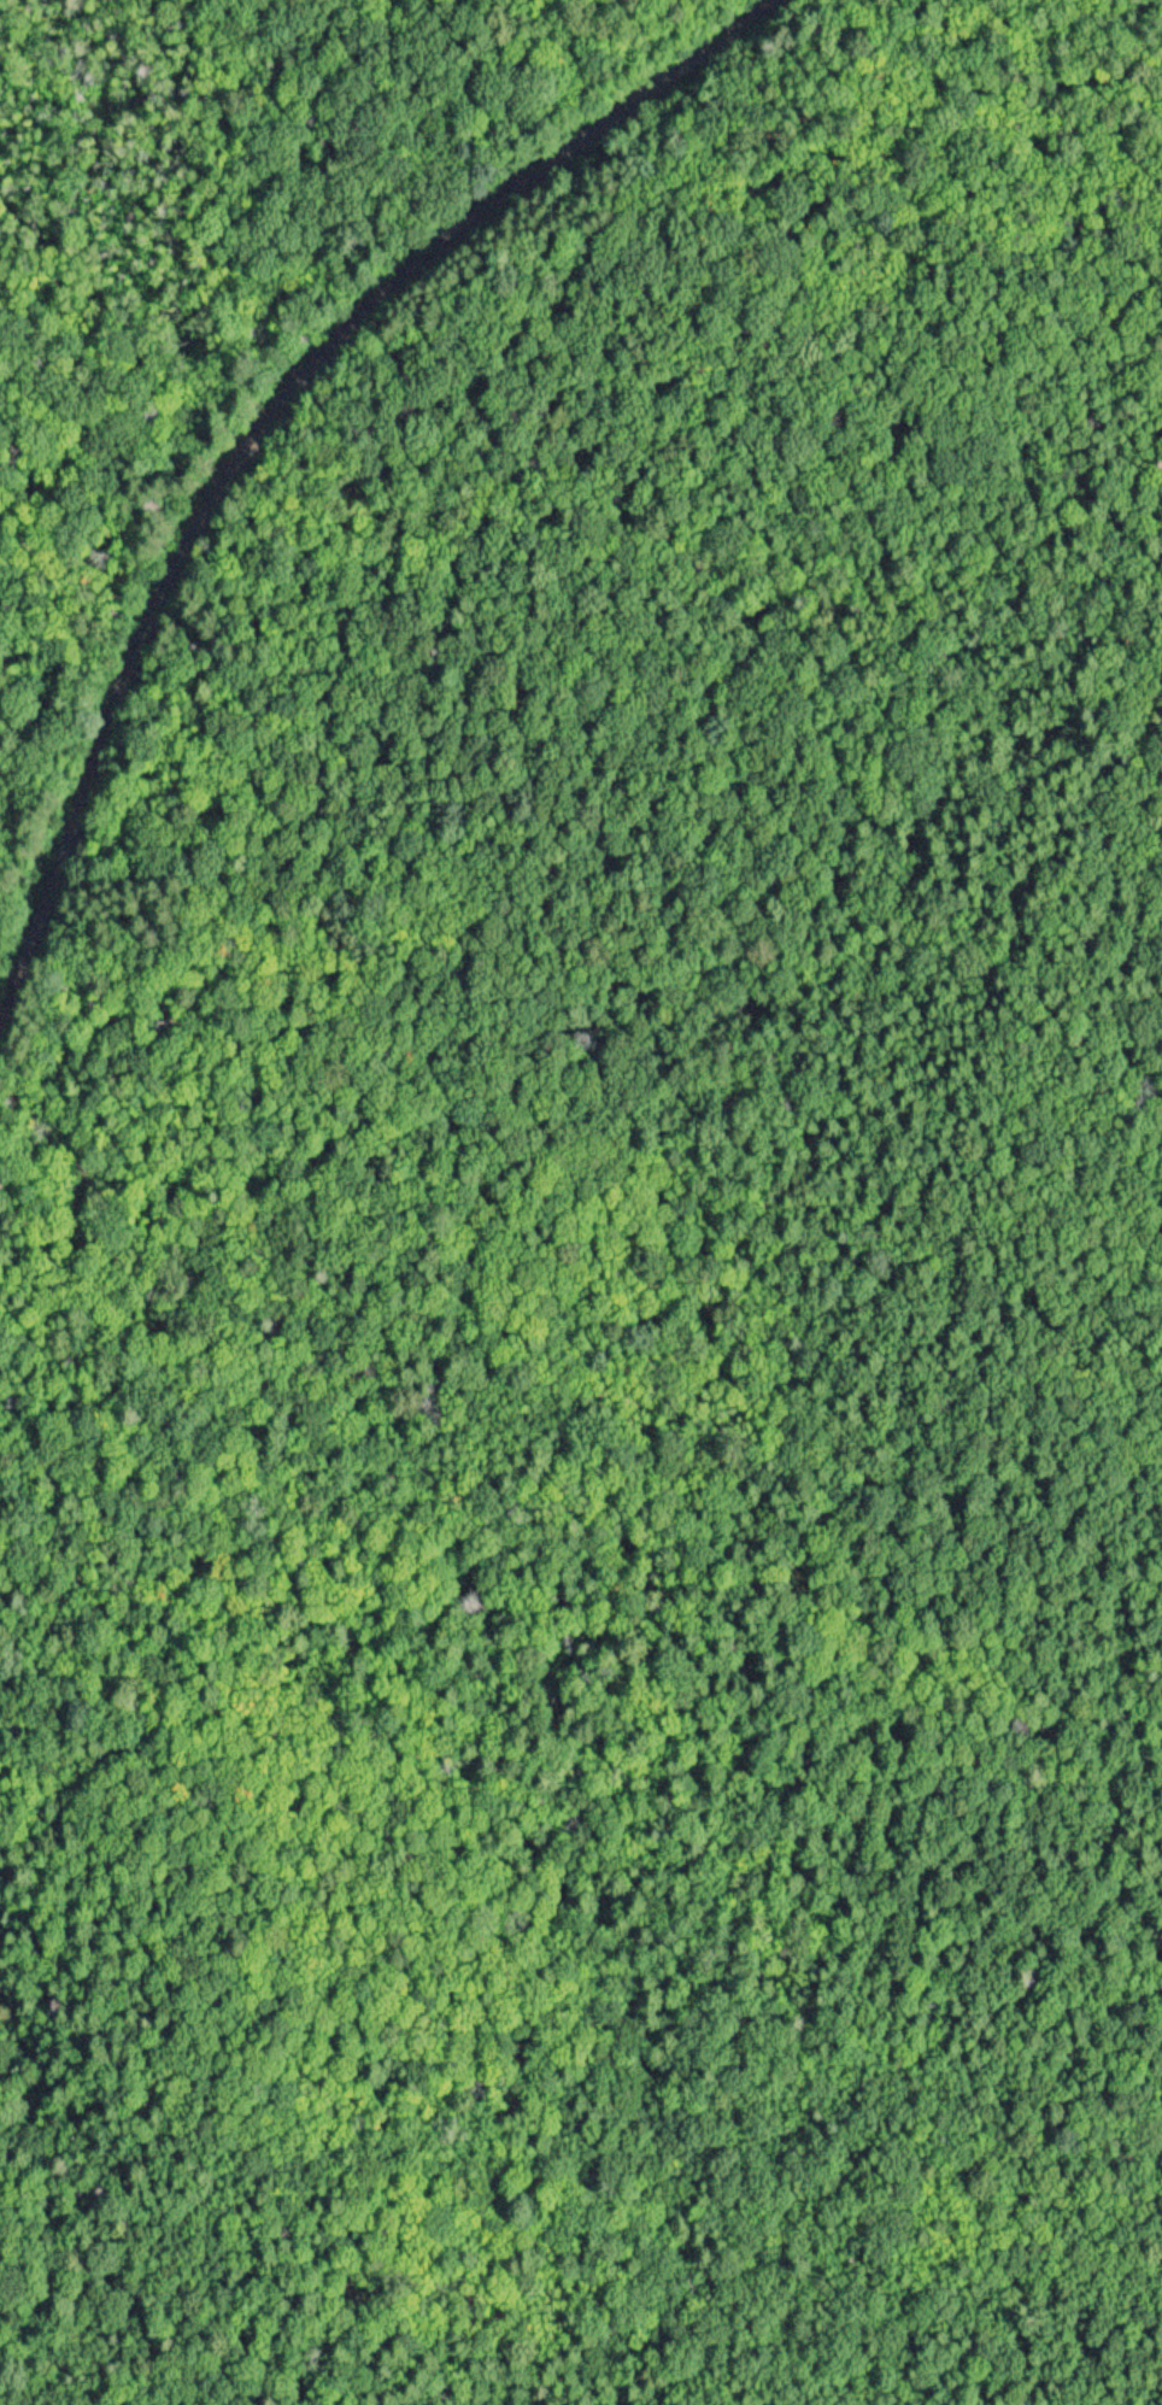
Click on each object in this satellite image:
road: (268, 422)
road: (714, 2140)
road: (250, 2353)

